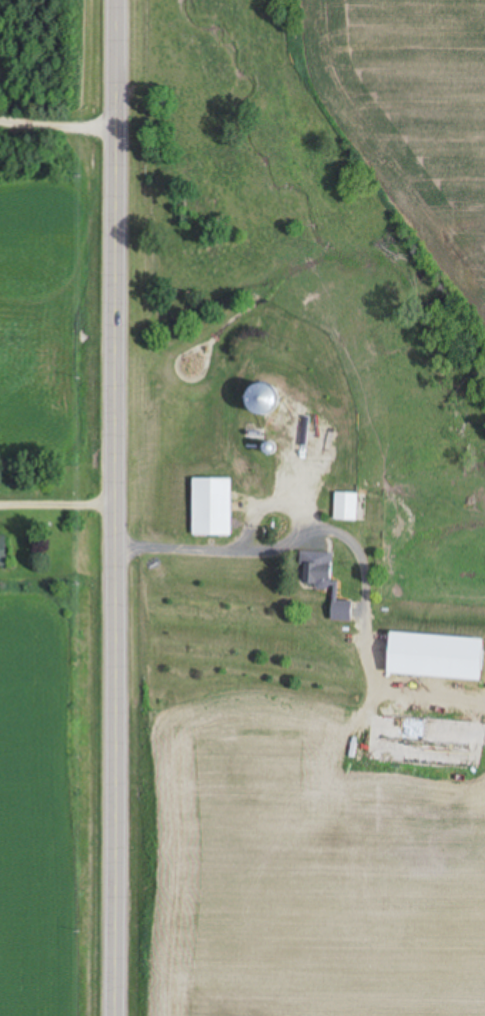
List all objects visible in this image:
building: (321, 425)
building: (344, 507)
road: (59, 508)
road: (120, 508)
building: (209, 508)
building: (2, 552)
building: (321, 582)
building: (432, 657)

